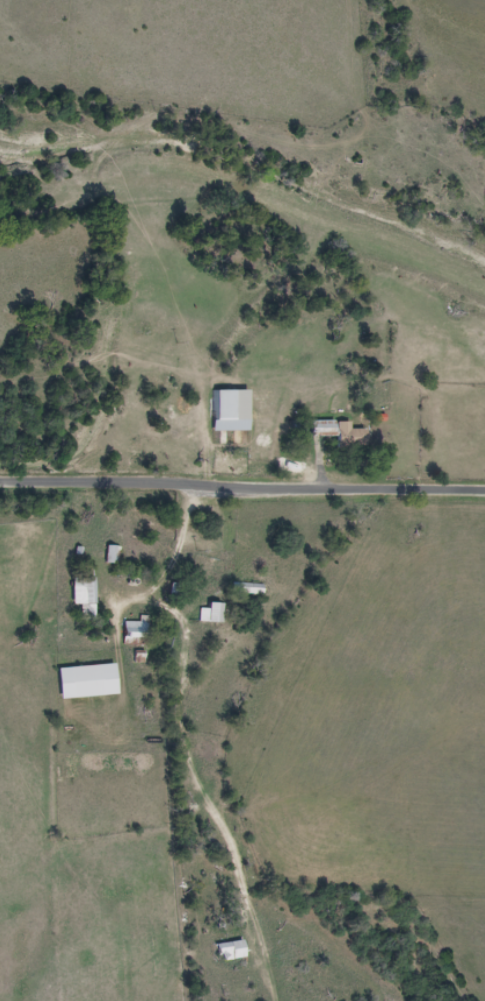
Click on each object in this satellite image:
building: (231, 411)
building: (339, 433)
road: (242, 487)
building: (112, 555)
building: (247, 589)
road: (164, 590)
building: (83, 594)
building: (213, 614)
building: (135, 633)
building: (86, 682)
building: (229, 951)

